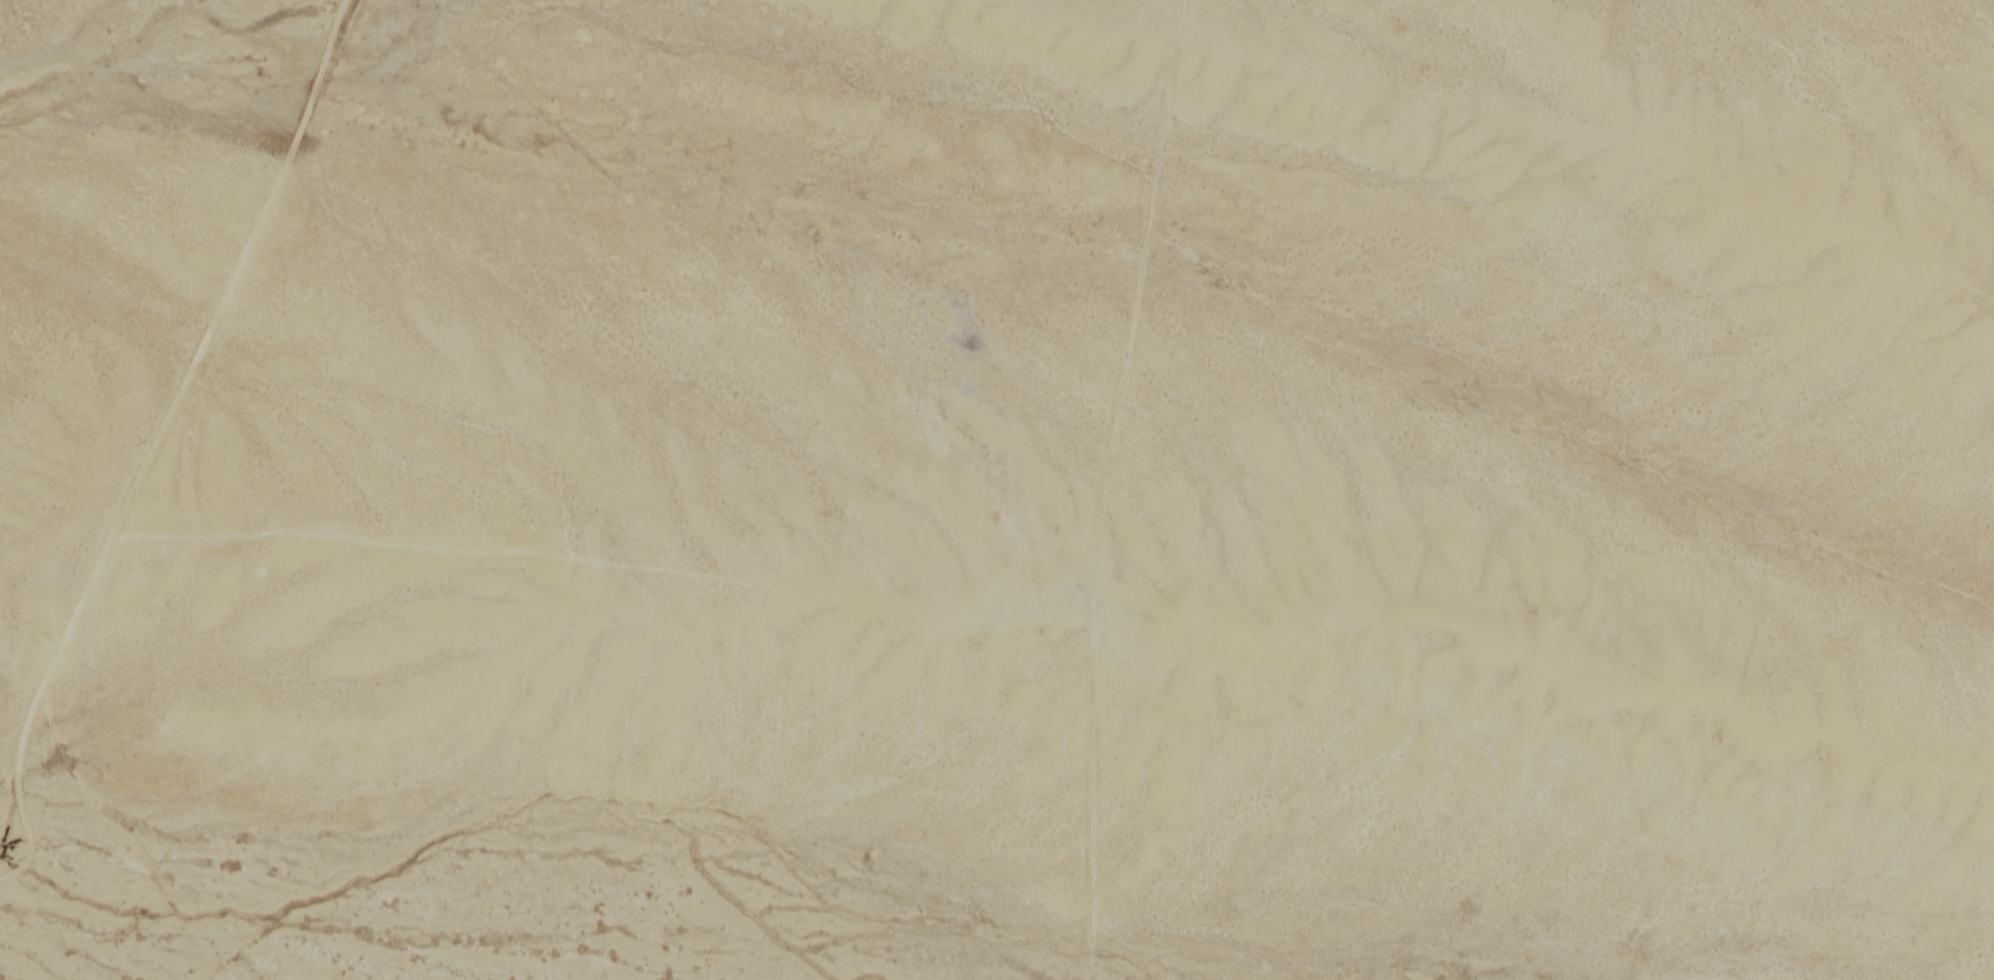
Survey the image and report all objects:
road: (158, 433)
road: (992, 575)

